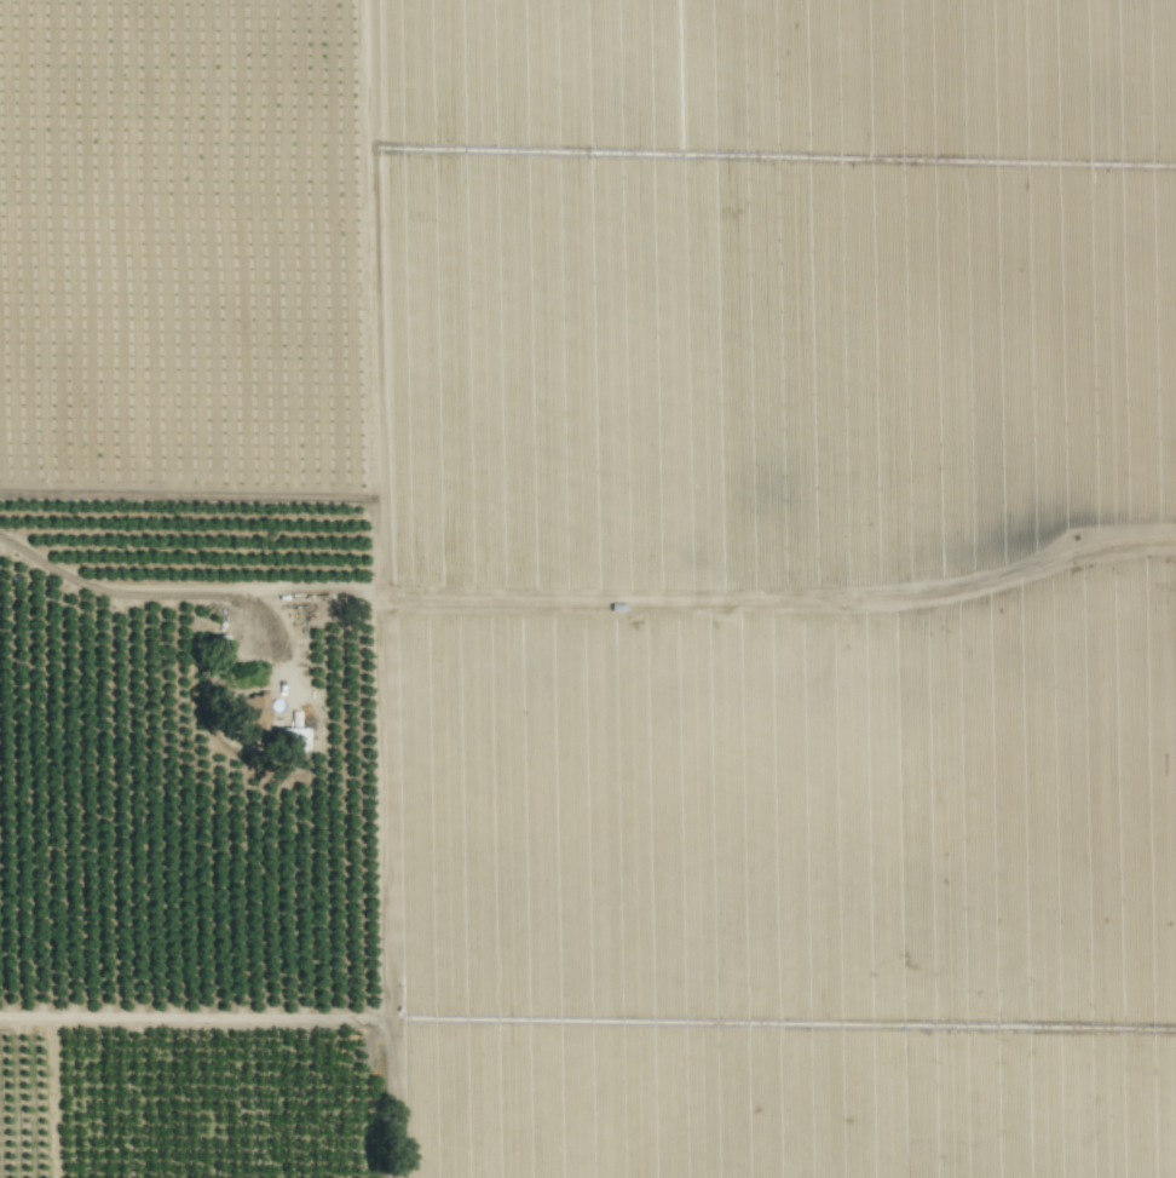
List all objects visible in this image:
road: (381, 588)
road: (161, 602)
building: (254, 711)
building: (293, 735)

